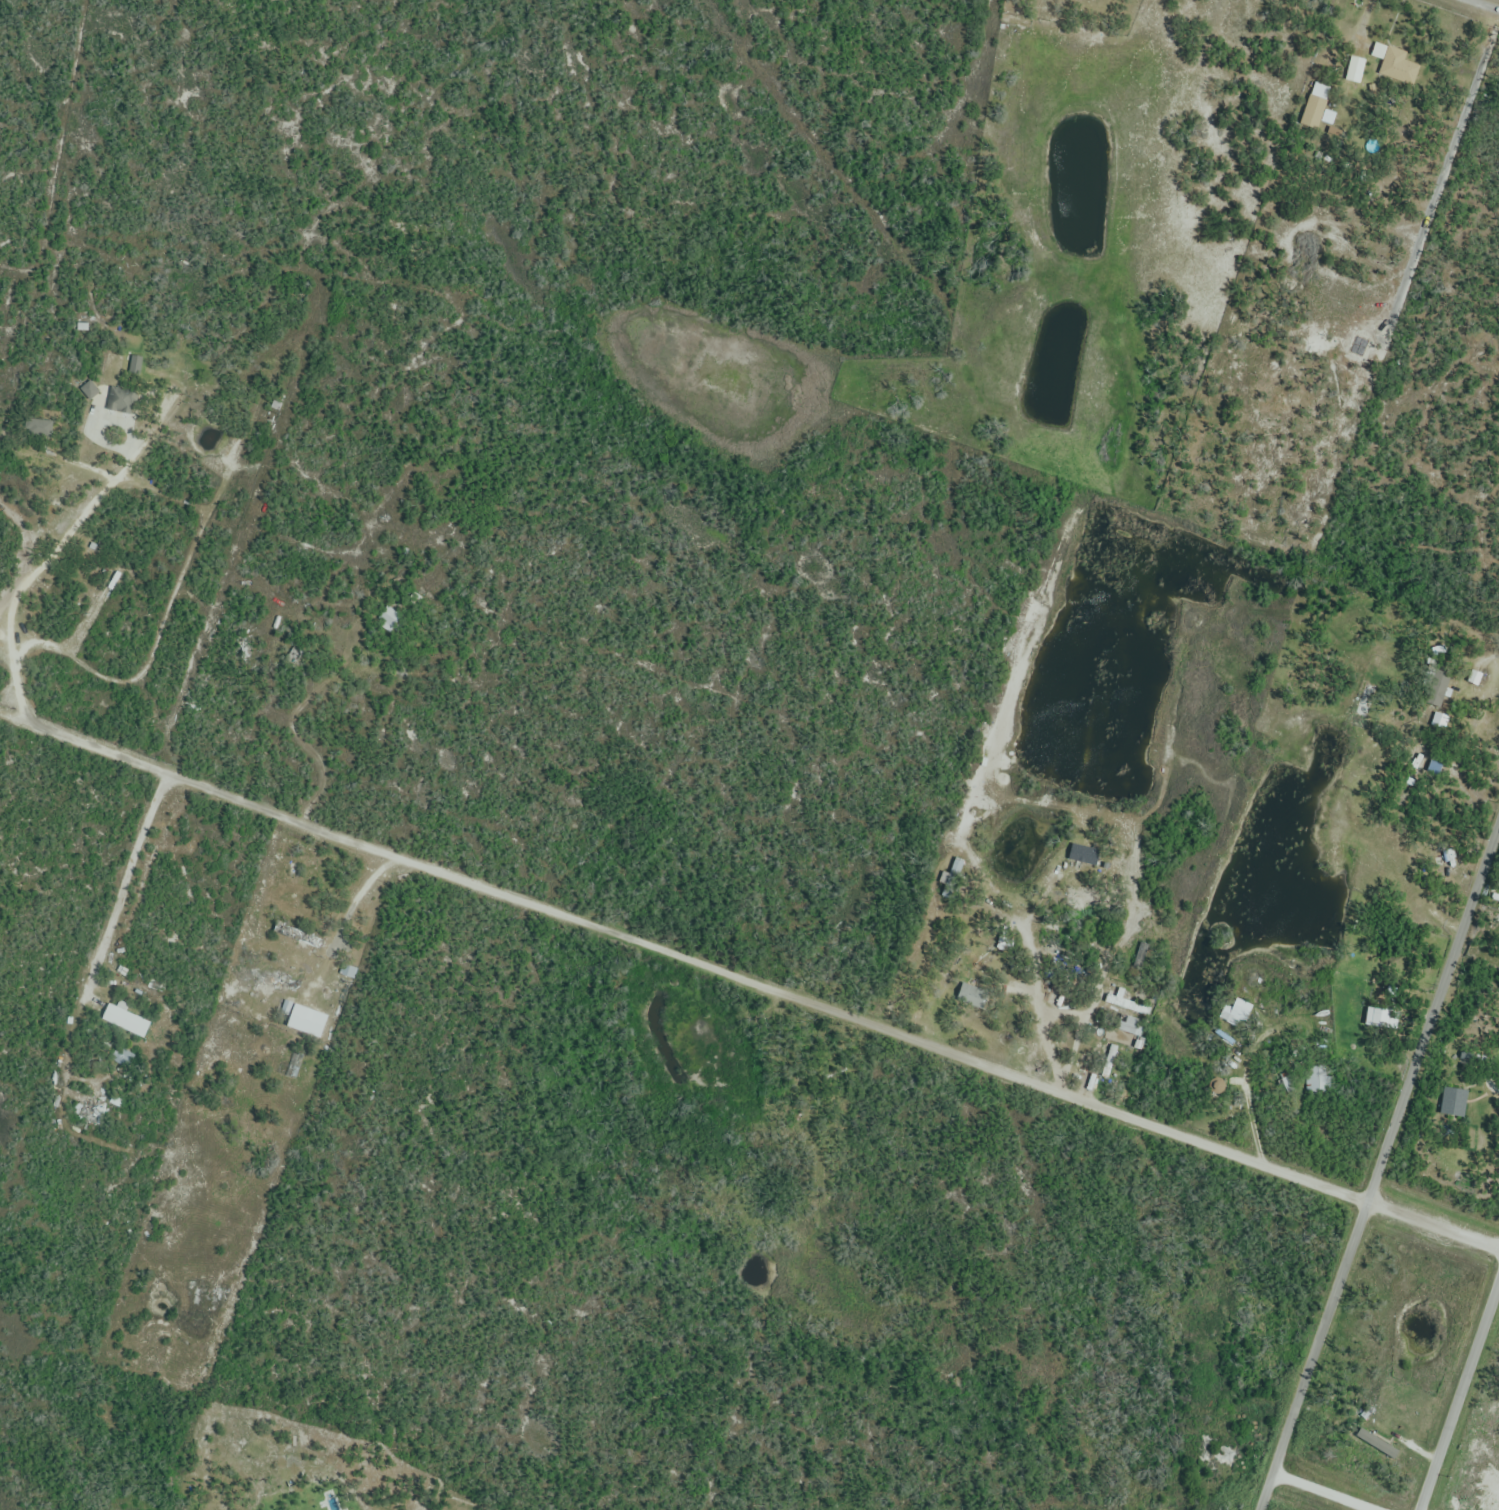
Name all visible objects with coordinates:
road: (1484, 5)
building: (1396, 65)
building: (1357, 70)
building: (1316, 107)
building: (1330, 116)
building: (261, 359)
building: (90, 391)
building: (122, 400)
building: (40, 428)
road: (33, 571)
building: (1437, 690)
building: (1083, 855)
building: (1449, 863)
building: (297, 939)
road: (749, 982)
building: (971, 997)
building: (1126, 1003)
building: (1240, 1010)
building: (1374, 1018)
building: (126, 1021)
building: (306, 1022)
building: (1130, 1025)
building: (121, 1057)
building: (1110, 1062)
building: (1317, 1079)
building: (1453, 1102)
building: (90, 1111)
road: (1378, 1168)
road: (1459, 1398)
building: (1377, 1444)
road: (1320, 1493)

